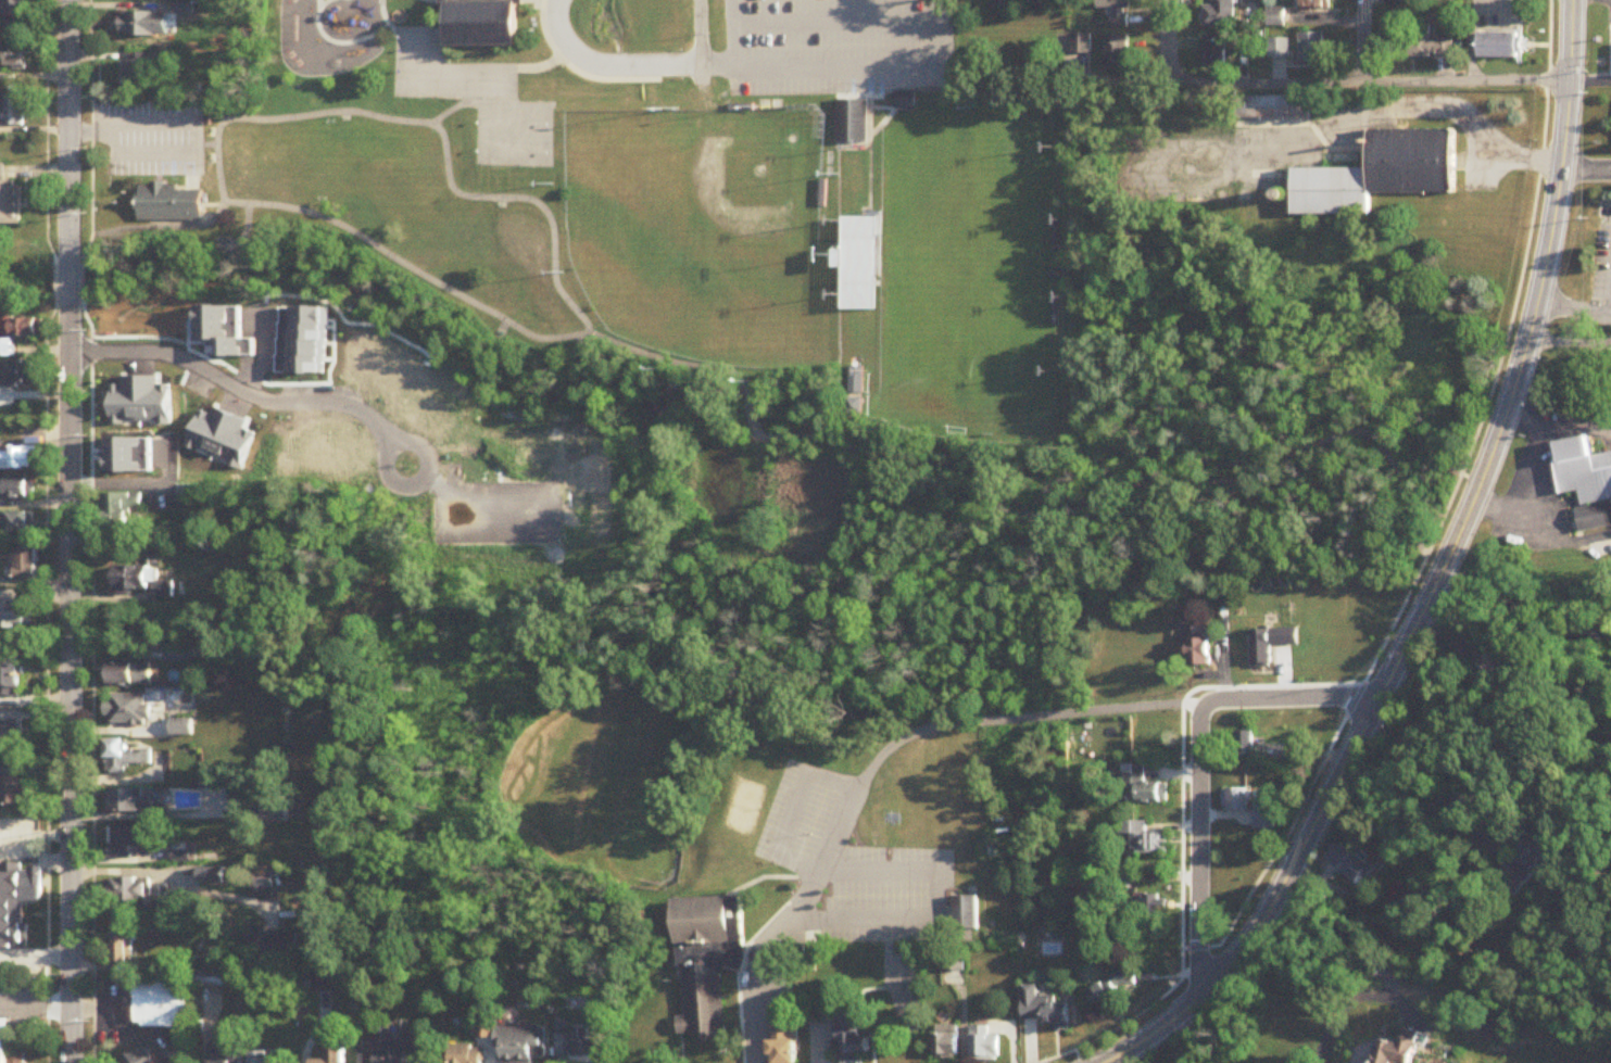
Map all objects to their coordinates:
road: (432, 0)
building: (1254, 1)
building: (1004, 3)
road: (322, 5)
building: (1316, 5)
building: (1117, 11)
building: (1221, 13)
building: (11, 16)
building: (1275, 17)
building: (482, 23)
building: (143, 24)
road: (391, 29)
road: (732, 33)
road: (354, 41)
road: (1167, 42)
road: (1365, 42)
building: (1423, 43)
road: (947, 45)
building: (1502, 46)
building: (1278, 48)
building: (1310, 48)
road: (696, 51)
building: (1118, 51)
building: (1213, 52)
building: (15, 58)
road: (534, 60)
road: (822, 62)
road: (604, 67)
road: (577, 68)
building: (135, 73)
road: (310, 78)
road: (1589, 80)
road: (1298, 86)
building: (904, 100)
park: (475, 101)
building: (14, 111)
building: (1249, 112)
road: (236, 117)
building: (851, 122)
road: (85, 129)
road: (40, 131)
road: (66, 131)
road: (81, 135)
parking lot: (150, 138)
road: (205, 147)
road: (194, 153)
road: (1585, 169)
building: (1381, 174)
building: (9, 200)
building: (169, 204)
park: (512, 226)
road: (164, 229)
park: (698, 231)
road: (243, 236)
building: (859, 264)
park: (949, 267)
road: (81, 278)
road: (54, 280)
road: (67, 286)
road: (1573, 305)
building: (16, 330)
road: (674, 363)
building: (18, 374)
building: (855, 390)
building: (118, 393)
road: (306, 401)
building: (221, 409)
river: (725, 409)
road: (751, 415)
road: (1573, 422)
building: (364, 427)
building: (17, 459)
building: (118, 461)
road: (1527, 473)
building: (1585, 481)
building: (17, 491)
road: (1120, 493)
building: (123, 505)
building: (17, 522)
building: (25, 564)
road: (1439, 579)
building: (139, 581)
road: (1409, 592)
building: (14, 617)
building: (1269, 645)
building: (1200, 647)
building: (128, 675)
building: (9, 678)
road: (85, 681)
road: (49, 682)
road: (70, 685)
road: (1130, 708)
building: (127, 709)
road: (1494, 716)
building: (180, 729)
building: (10, 732)
building: (1246, 744)
building: (123, 758)
park: (606, 777)
building: (211, 781)
building: (1143, 787)
building: (13, 792)
building: (1236, 800)
building: (129, 802)
road: (793, 811)
building: (1264, 819)
road: (35, 835)
building: (1144, 838)
building: (123, 840)
road: (1198, 850)
road: (40, 859)
building: (1527, 865)
building: (1351, 866)
road: (758, 872)
building: (211, 877)
building: (262, 884)
building: (125, 890)
building: (18, 895)
road: (807, 907)
building: (1153, 907)
road: (934, 908)
building: (966, 914)
building: (708, 929)
building: (123, 945)
building: (272, 945)
building: (216, 957)
road: (36, 958)
road: (739, 961)
building: (954, 963)
road: (733, 965)
building: (212, 980)
building: (327, 983)
building: (1113, 989)
parking lot: (18, 990)
building: (705, 999)
road: (1347, 1002)
building: (155, 1005)
road: (35, 1008)
building: (1043, 1010)
building: (849, 1030)
building: (784, 1033)
building: (1493, 1033)
building: (4, 1038)
building: (416, 1039)
building: (519, 1045)
building: (982, 1046)
building: (945, 1047)
building: (581, 1048)
building: (1398, 1051)
building: (18, 1054)
building: (226, 1054)
building: (467, 1054)
building: (336, 1056)
building: (261, 1058)
building: (141, 1059)
road: (1109, 1062)
building: (1437, 1062)

